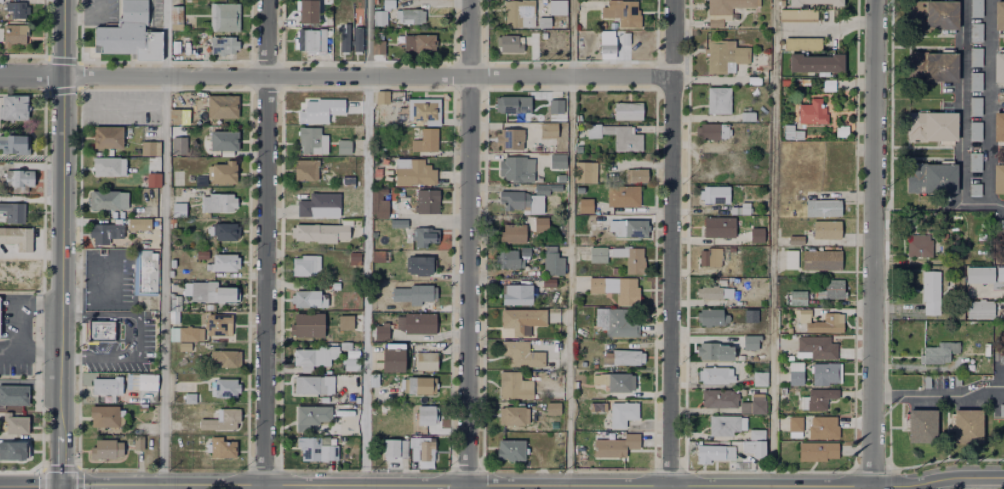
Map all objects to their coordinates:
building: (819, 0)
building: (553, 6)
building: (974, 7)
building: (16, 8)
building: (721, 9)
building: (620, 11)
parking lot: (98, 12)
building: (309, 12)
building: (516, 12)
road: (100, 13)
building: (175, 13)
building: (795, 13)
building: (930, 13)
building: (410, 14)
building: (379, 16)
building: (1000, 16)
building: (224, 17)
road: (77, 19)
building: (328, 20)
building: (541, 20)
building: (974, 30)
building: (11, 33)
building: (127, 33)
building: (343, 35)
building: (623, 36)
road: (164, 37)
building: (357, 38)
building: (309, 39)
building: (418, 41)
building: (506, 41)
building: (799, 41)
building: (222, 43)
building: (604, 44)
building: (378, 45)
building: (721, 53)
building: (974, 55)
building: (810, 59)
building: (930, 64)
building: (1000, 68)
road: (31, 74)
road: (367, 74)
building: (750, 78)
building: (974, 79)
building: (782, 80)
building: (802, 80)
road: (122, 88)
road: (65, 89)
road: (25, 94)
building: (382, 95)
building: (714, 97)
building: (507, 102)
road: (989, 102)
building: (221, 104)
building: (553, 104)
building: (973, 104)
building: (13, 106)
road: (125, 106)
building: (423, 108)
building: (326, 109)
building: (624, 110)
building: (809, 110)
building: (177, 113)
building: (743, 114)
building: (929, 124)
road: (960, 124)
road: (43, 125)
building: (997, 125)
building: (709, 128)
building: (545, 129)
building: (973, 129)
building: (788, 130)
building: (106, 134)
building: (506, 137)
building: (222, 138)
building: (312, 138)
building: (623, 138)
building: (425, 139)
building: (14, 145)
building: (178, 145)
building: (342, 145)
building: (149, 146)
road: (31, 156)
building: (551, 159)
building: (973, 160)
building: (107, 164)
building: (514, 166)
building: (305, 167)
building: (413, 170)
building: (583, 170)
building: (221, 172)
building: (633, 173)
building: (927, 174)
building: (16, 178)
building: (151, 178)
building: (999, 178)
building: (972, 188)
building: (713, 193)
building: (623, 195)
building: (107, 197)
building: (426, 199)
building: (519, 199)
building: (218, 201)
building: (379, 203)
building: (318, 204)
building: (585, 204)
building: (819, 206)
building: (738, 207)
building: (177, 208)
building: (12, 209)
building: (137, 222)
building: (537, 223)
building: (398, 224)
building: (718, 225)
building: (623, 226)
building: (822, 228)
building: (223, 229)
building: (103, 231)
building: (320, 231)
building: (511, 231)
building: (756, 233)
building: (942, 235)
building: (16, 236)
building: (424, 237)
building: (792, 237)
road: (61, 242)
building: (918, 242)
road: (265, 244)
road: (365, 244)
road: (467, 244)
road: (570, 244)
road: (671, 244)
road: (772, 244)
road: (874, 244)
building: (380, 255)
building: (598, 255)
building: (354, 256)
building: (708, 256)
building: (505, 257)
building: (788, 258)
building: (818, 258)
building: (632, 259)
building: (223, 261)
building: (172, 262)
building: (551, 262)
building: (305, 264)
building: (423, 266)
building: (613, 270)
building: (143, 272)
building: (977, 273)
building: (999, 273)
building: (546, 281)
road: (163, 282)
building: (1003, 282)
building: (335, 286)
building: (613, 286)
building: (828, 287)
building: (211, 290)
building: (709, 290)
road: (989, 291)
building: (929, 292)
building: (515, 293)
building: (414, 294)
building: (793, 296)
building: (347, 298)
building: (306, 299)
building: (977, 307)
building: (801, 313)
building: (748, 314)
building: (705, 315)
road: (73, 316)
building: (518, 318)
building: (613, 321)
building: (826, 322)
building: (218, 323)
building: (344, 323)
building: (305, 324)
building: (420, 325)
building: (382, 330)
building: (101, 331)
building: (184, 333)
road: (135, 336)
building: (381, 338)
building: (747, 340)
building: (814, 345)
building: (711, 349)
building: (517, 352)
building: (935, 352)
road: (72, 356)
building: (314, 356)
building: (391, 356)
building: (620, 356)
building: (225, 357)
building: (422, 360)
building: (579, 362)
building: (349, 364)
building: (793, 372)
building: (823, 372)
building: (716, 373)
building: (756, 376)
building: (611, 379)
building: (147, 383)
building: (313, 383)
building: (416, 384)
building: (108, 385)
building: (511, 385)
building: (223, 386)
building: (14, 396)
building: (713, 396)
road: (939, 396)
building: (189, 397)
building: (813, 397)
building: (750, 402)
building: (595, 405)
building: (549, 407)
building: (999, 408)
building: (176, 410)
building: (619, 412)
building: (422, 413)
building: (509, 413)
building: (105, 416)
building: (311, 417)
building: (221, 418)
building: (792, 422)
building: (13, 424)
building: (722, 424)
building: (820, 426)
building: (965, 426)
building: (920, 428)
building: (754, 431)
building: (611, 444)
building: (221, 446)
building: (506, 447)
building: (754, 448)
building: (316, 449)
building: (395, 449)
building: (814, 449)
building: (711, 450)
building: (13, 451)
building: (107, 451)
building: (427, 452)
building: (414, 454)
road: (971, 483)
road: (532, 484)
road: (30, 487)
road: (60, 487)
road: (131, 487)
road: (2, 488)

